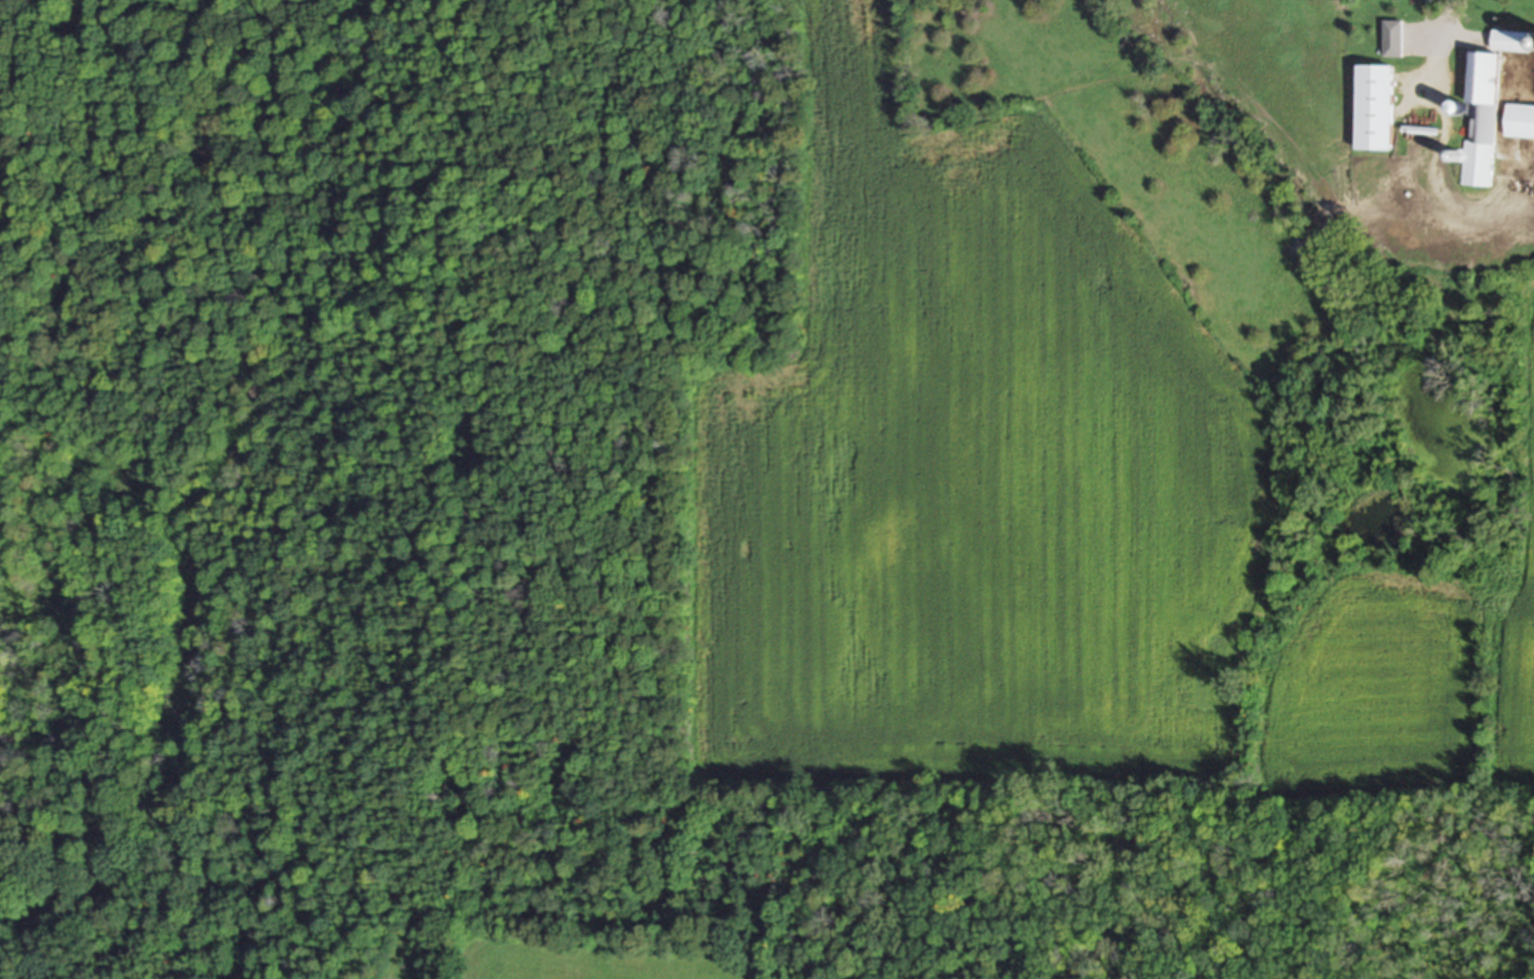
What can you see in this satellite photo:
road: (1455, 19)
building: (1391, 40)
building: (1509, 42)
building: (1373, 109)
building: (1518, 122)
building: (1487, 123)

